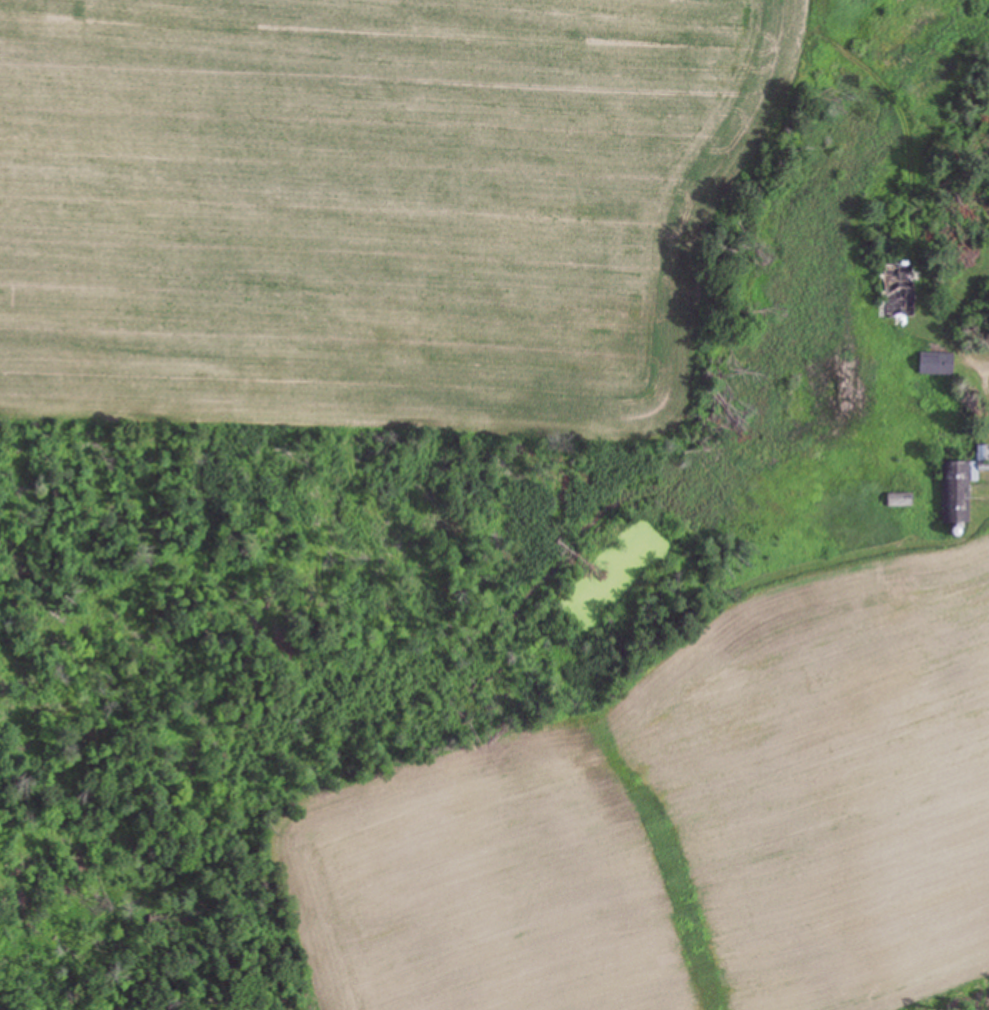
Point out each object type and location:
building: (911, 289)
building: (939, 363)
road: (976, 413)
building: (985, 452)
building: (963, 481)
building: (902, 498)

